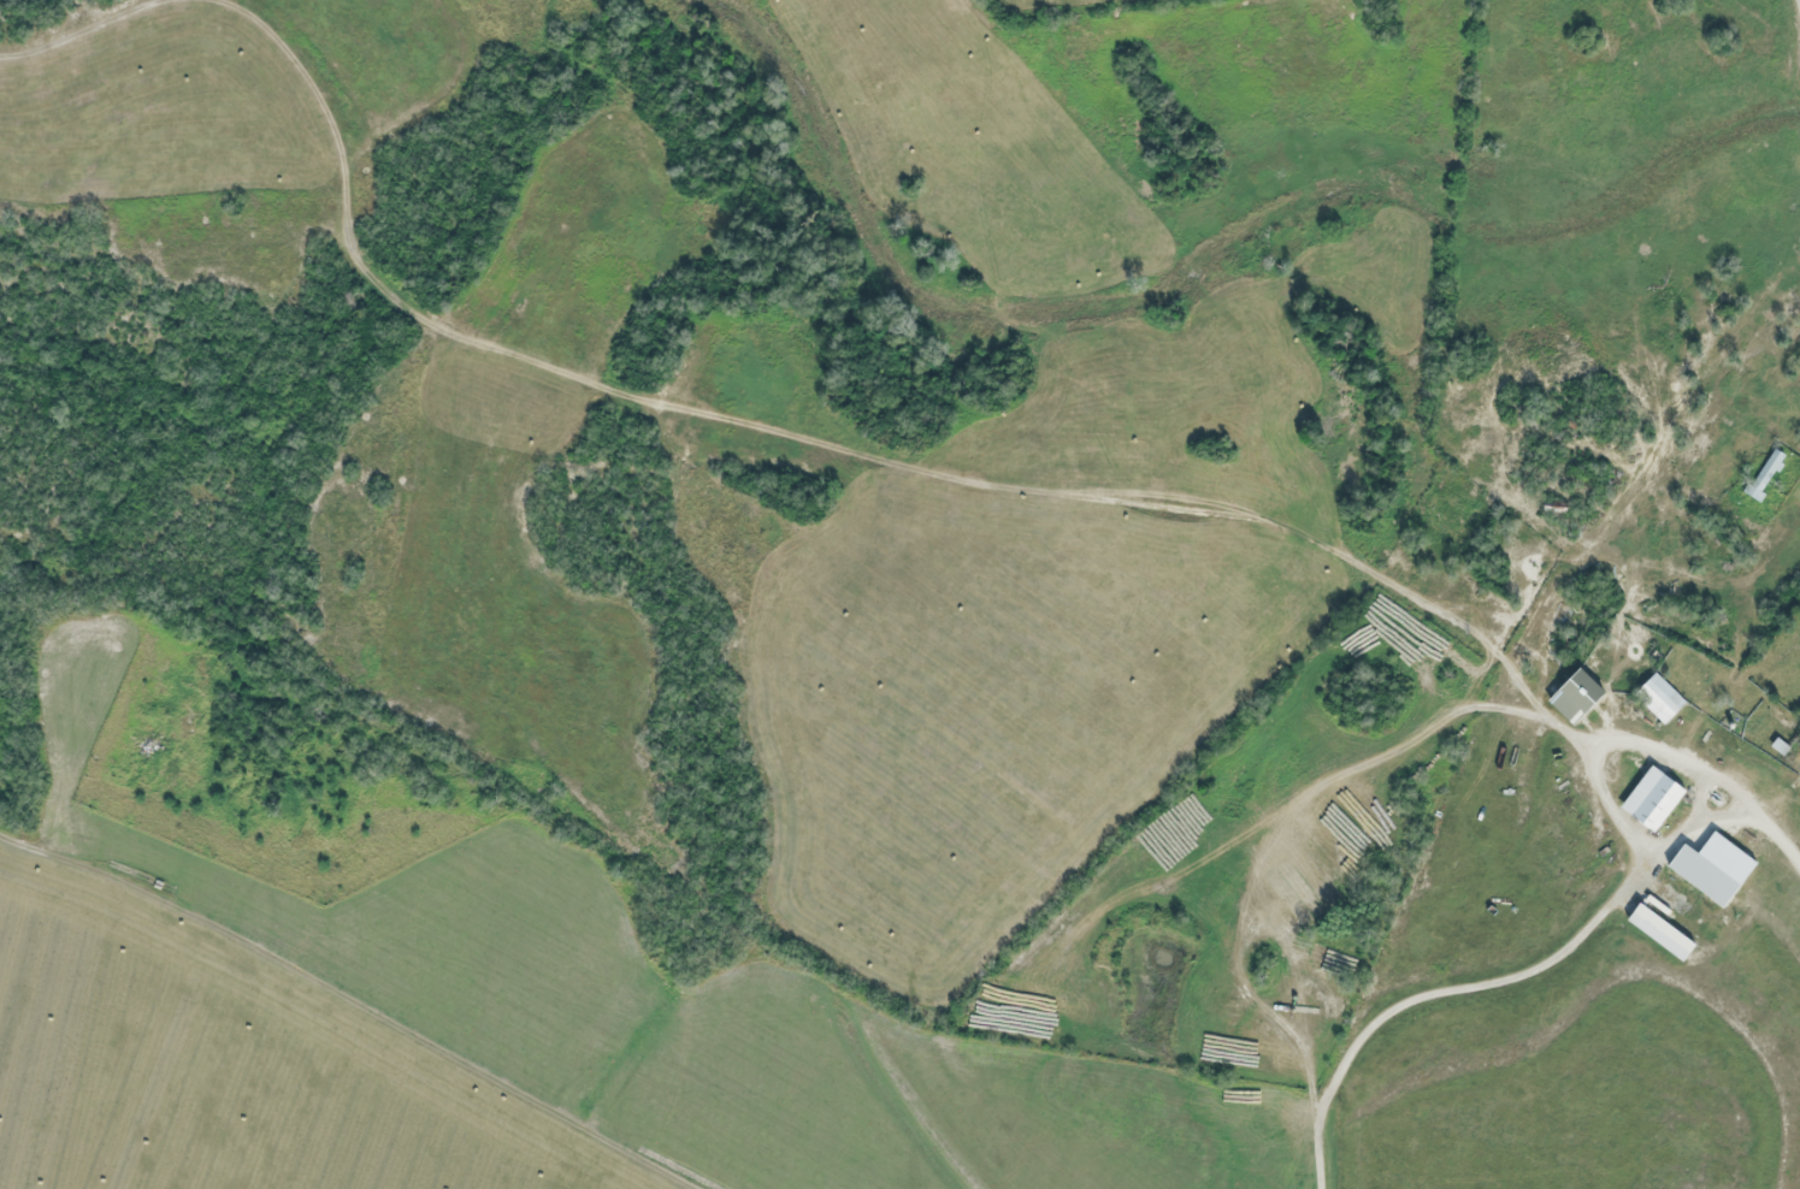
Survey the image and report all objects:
road: (1798, 7)
building: (1760, 475)
building: (1568, 697)
building: (1653, 699)
building: (1645, 800)
building: (1665, 913)

